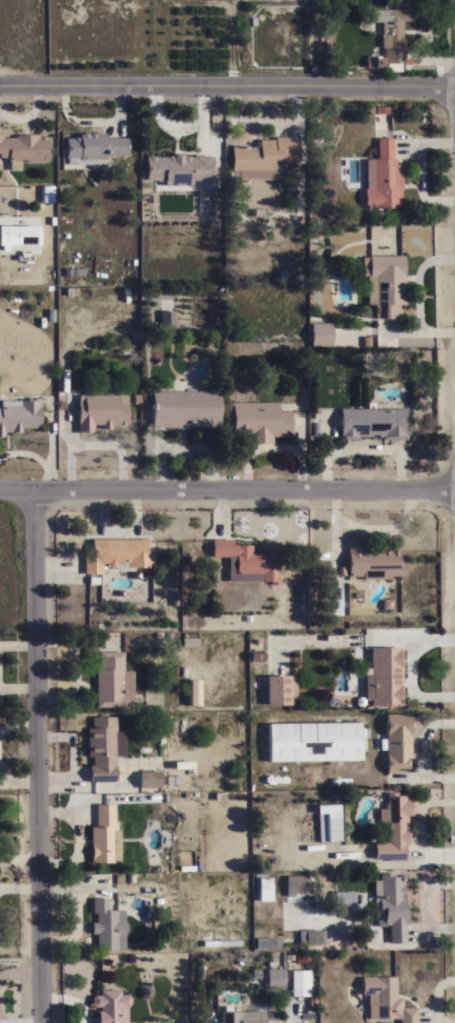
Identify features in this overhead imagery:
building: (394, 34)
building: (373, 61)
road: (227, 88)
building: (377, 109)
building: (93, 148)
building: (23, 149)
building: (261, 158)
building: (178, 169)
building: (383, 178)
building: (19, 235)
building: (74, 272)
building: (385, 284)
building: (50, 313)
building: (167, 318)
building: (321, 334)
building: (105, 382)
building: (185, 409)
building: (100, 411)
building: (19, 415)
building: (259, 421)
building: (373, 423)
road: (227, 492)
building: (117, 554)
building: (246, 561)
building: (371, 561)
building: (357, 595)
building: (174, 598)
building: (386, 603)
building: (190, 642)
building: (257, 656)
building: (384, 676)
building: (113, 681)
building: (279, 690)
building: (197, 693)
building: (314, 741)
building: (397, 741)
building: (104, 748)
road: (38, 757)
building: (149, 779)
building: (328, 822)
building: (394, 827)
building: (104, 836)
building: (299, 885)
building: (264, 889)
building: (391, 905)
building: (107, 926)
building: (311, 937)
building: (262, 944)
building: (255, 973)
building: (297, 973)
building: (276, 978)
building: (385, 1000)
building: (111, 1006)
building: (241, 1016)

